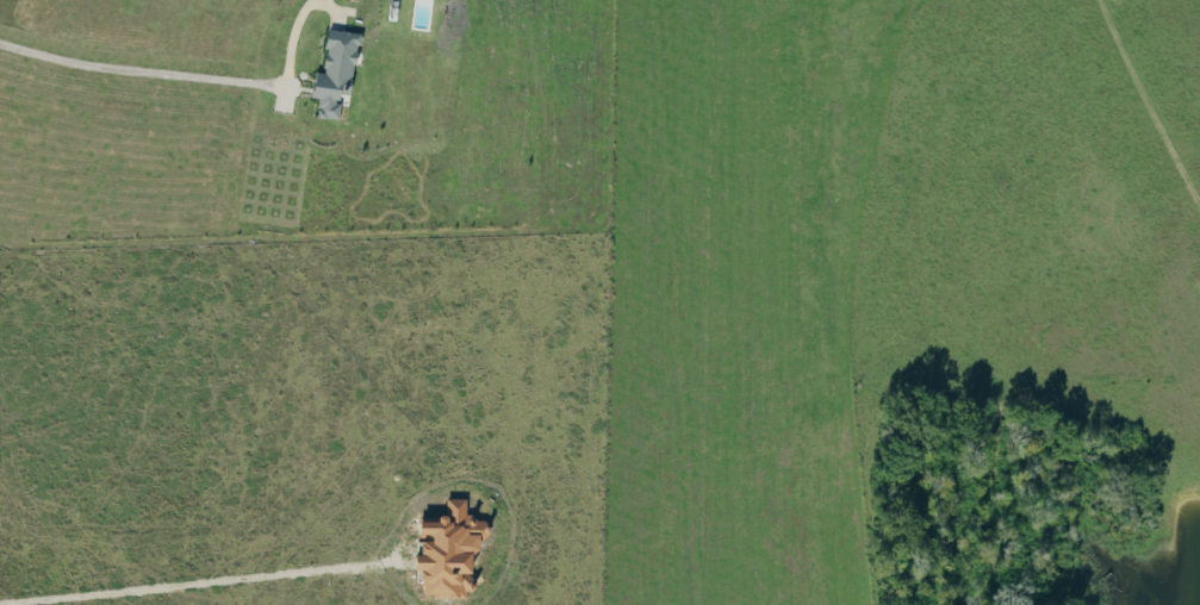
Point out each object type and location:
road: (142, 76)
building: (338, 76)
building: (454, 550)
road: (337, 569)

